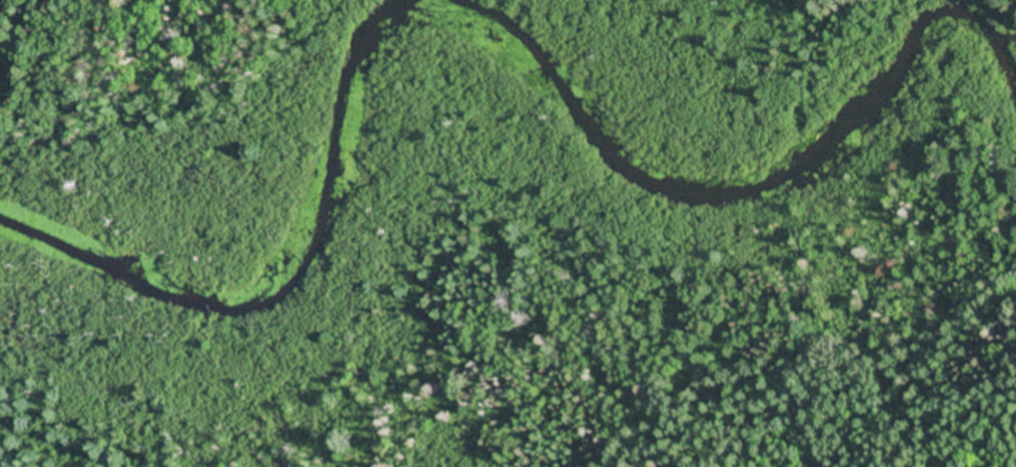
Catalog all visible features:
river: (494, 46)

